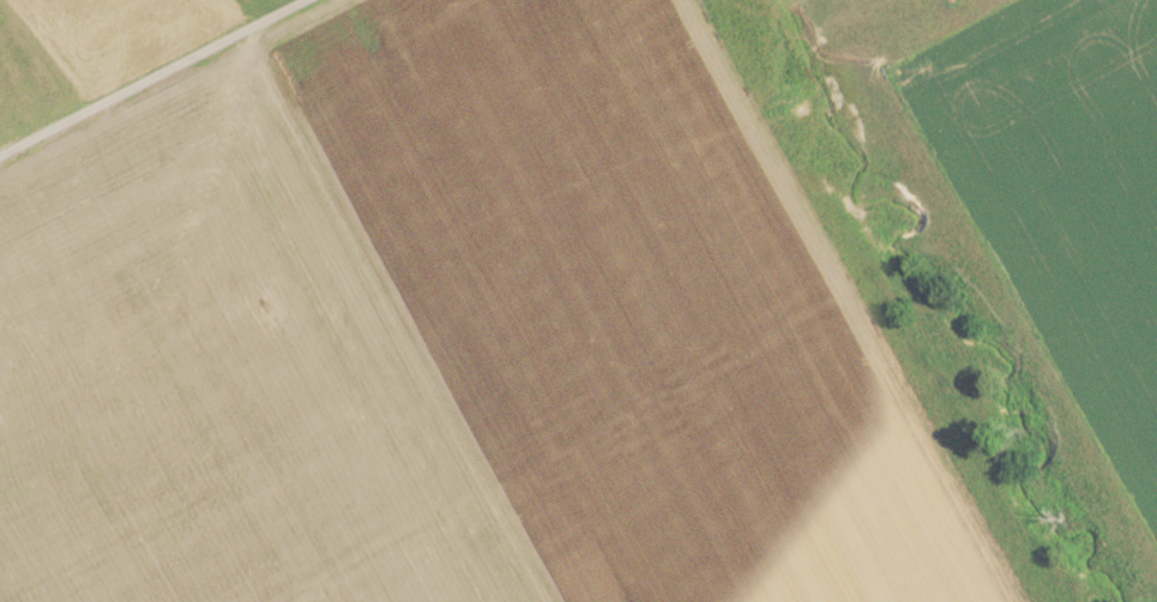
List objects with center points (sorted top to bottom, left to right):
road: (149, 78)

